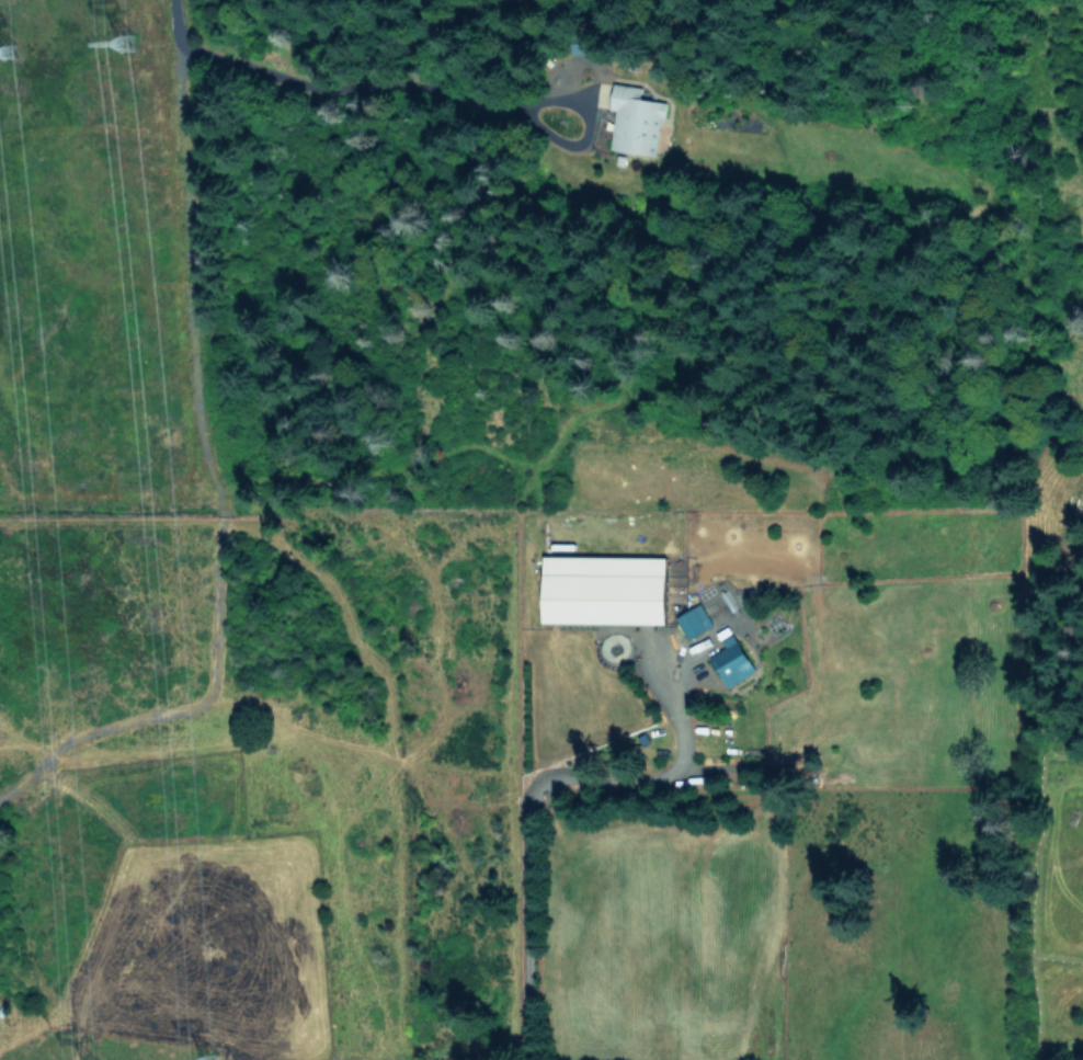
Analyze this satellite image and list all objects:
power tower: (137, 56)
power tower: (20, 69)
road: (317, 82)
building: (636, 121)
road: (579, 127)
building: (604, 589)
building: (694, 620)
building: (731, 661)
road: (525, 801)

